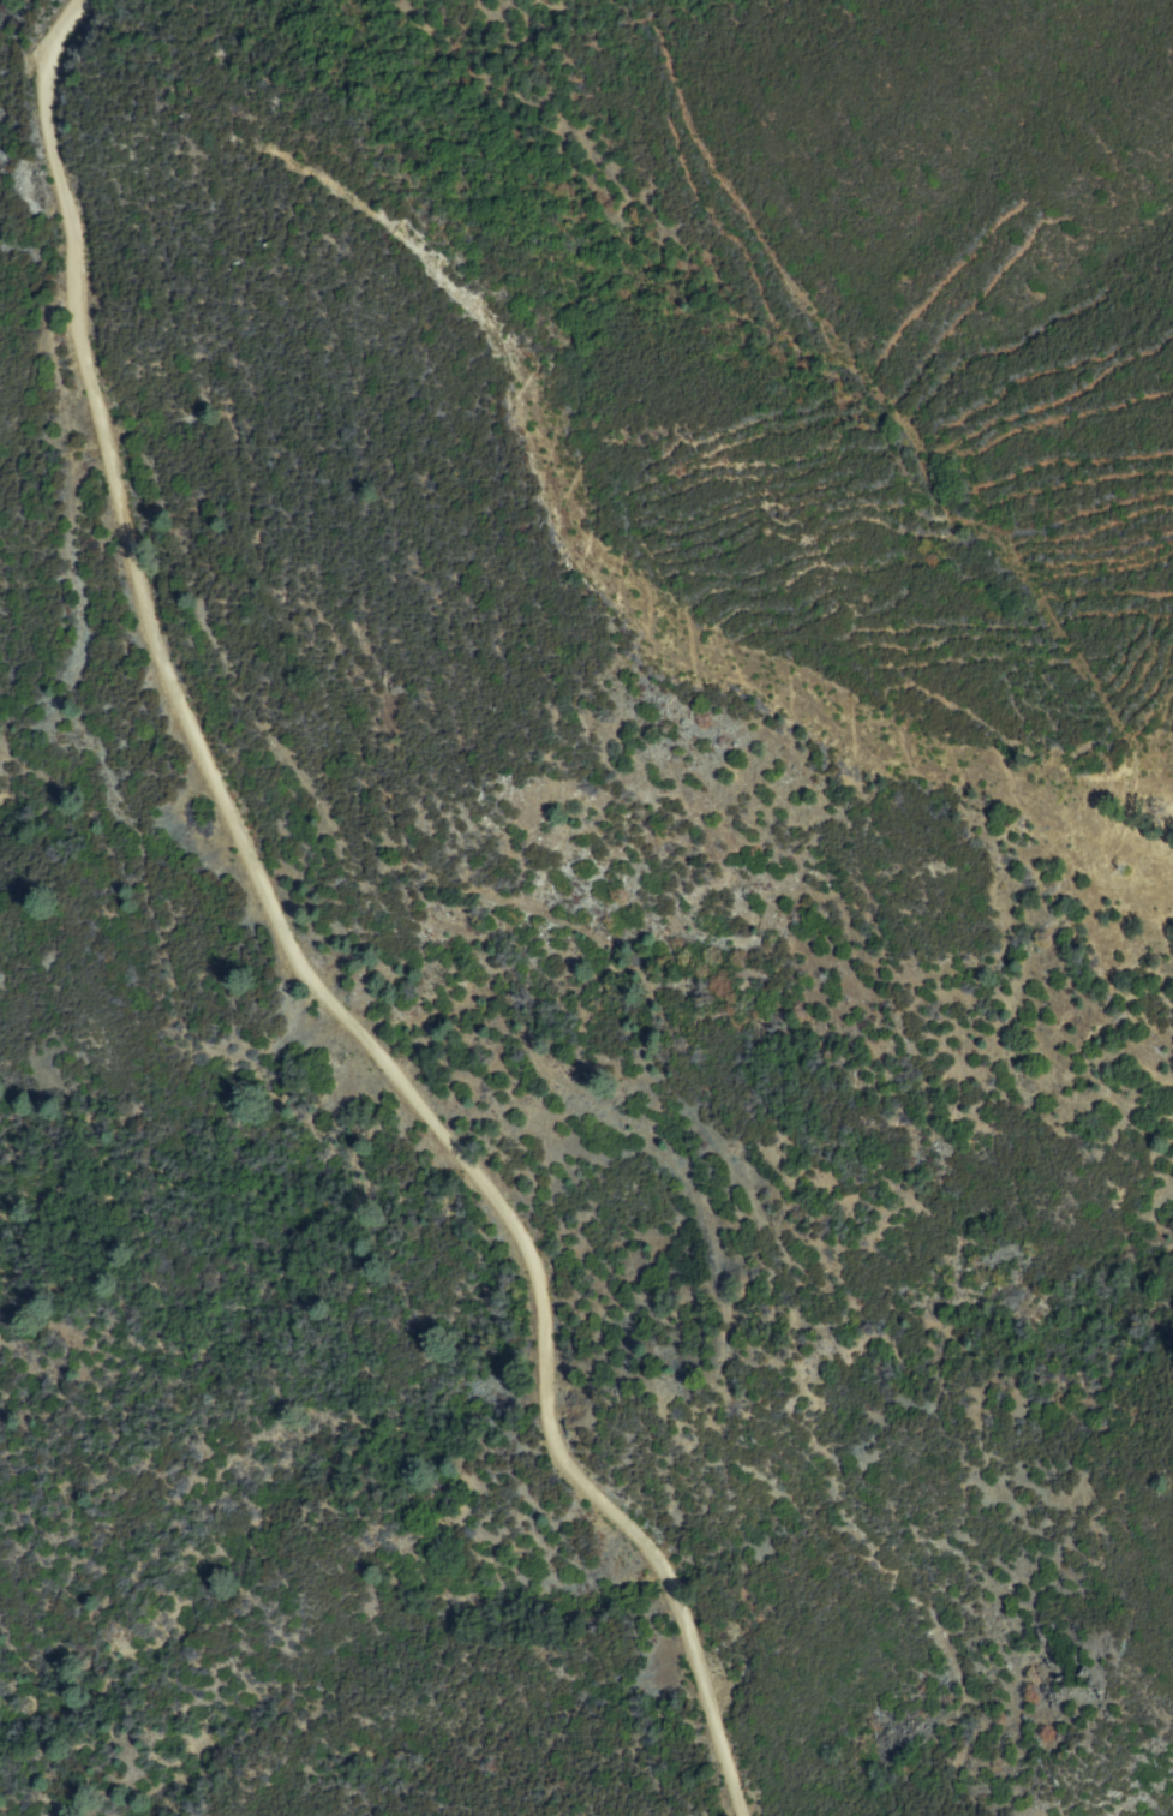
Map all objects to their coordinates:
road: (282, 951)

